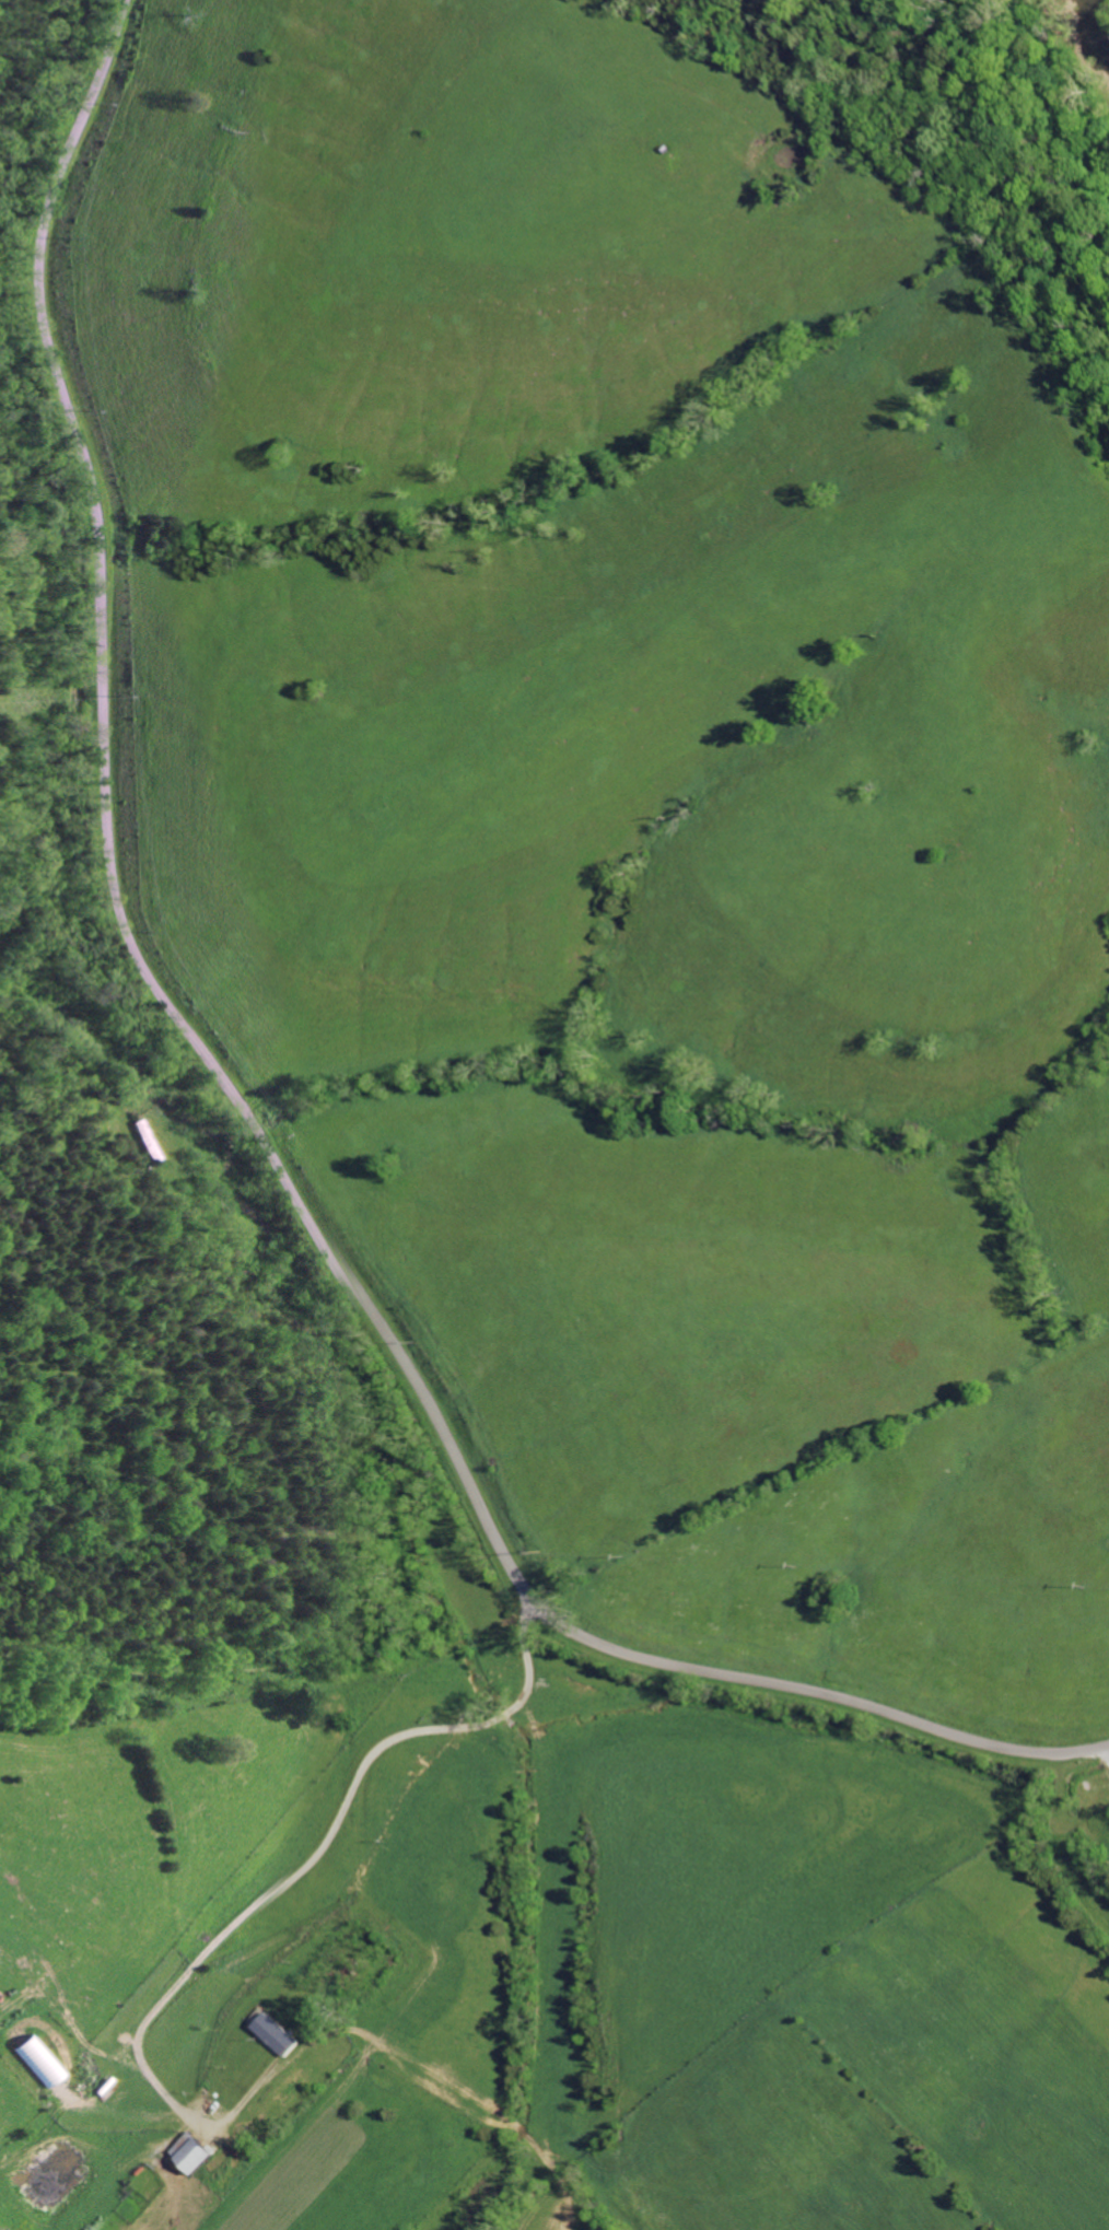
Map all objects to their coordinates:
river: (1090, 23)
road: (89, 1036)
road: (246, 1110)
road: (1104, 1756)
road: (326, 1836)
building: (283, 2035)
building: (310, 2070)
building: (197, 2152)

